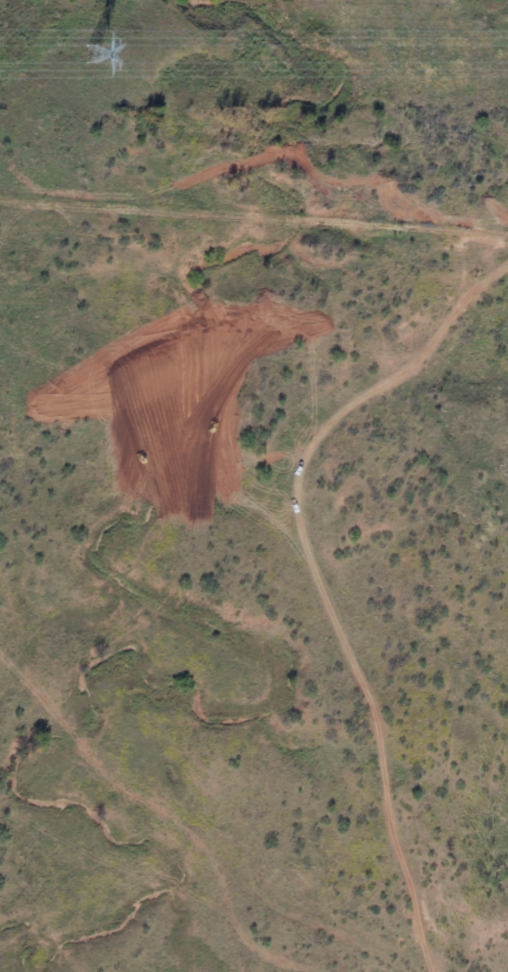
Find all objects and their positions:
power tower: (91, 53)

